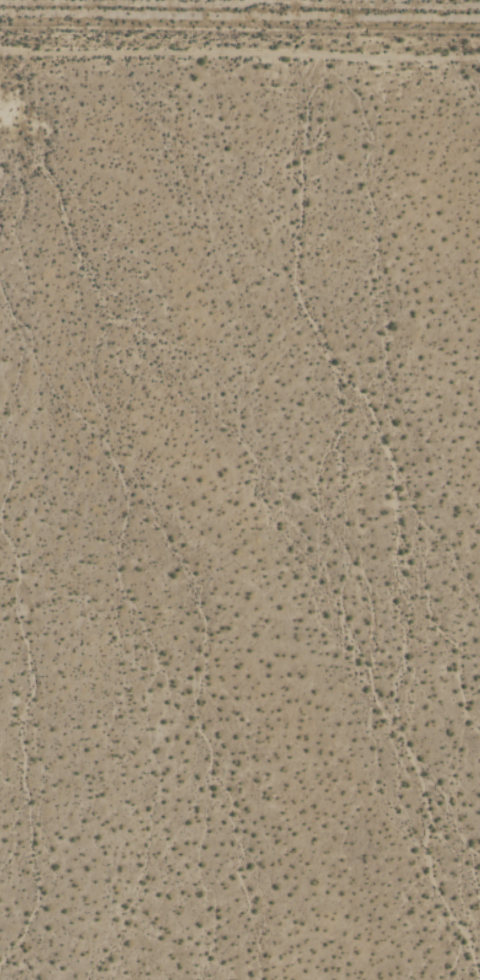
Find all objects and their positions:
road: (240, 12)

